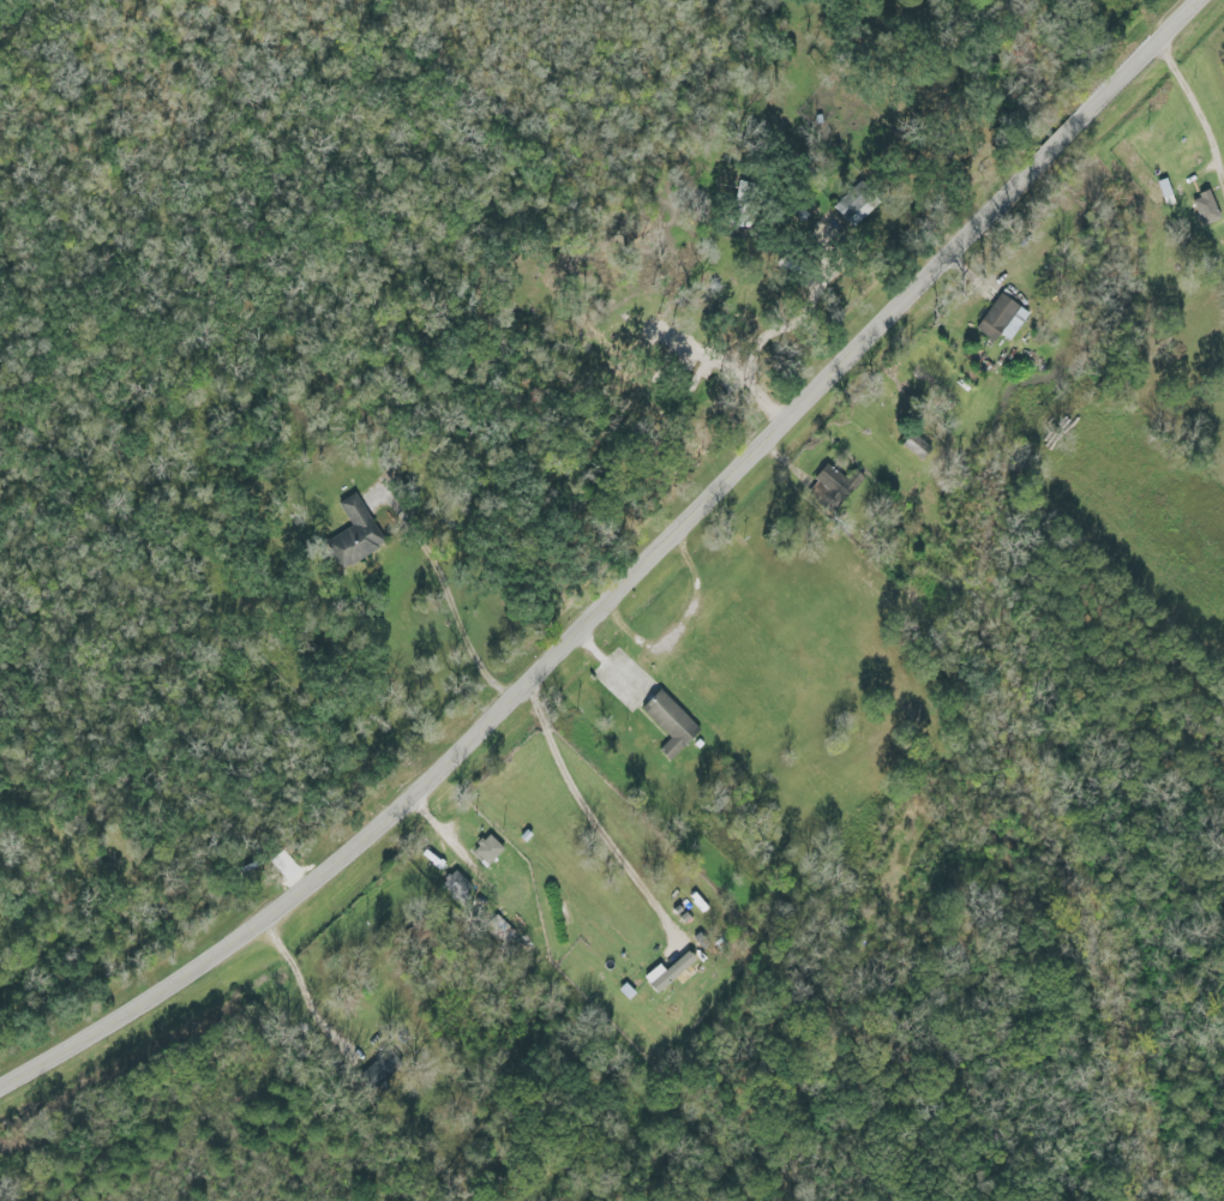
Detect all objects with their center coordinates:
road: (876, 106)
road: (1201, 112)
building: (1204, 209)
building: (1001, 320)
building: (914, 446)
building: (832, 488)
building: (354, 534)
road: (631, 583)
road: (452, 603)
building: (668, 725)
road: (593, 811)
building: (486, 851)
building: (456, 889)
building: (502, 932)

